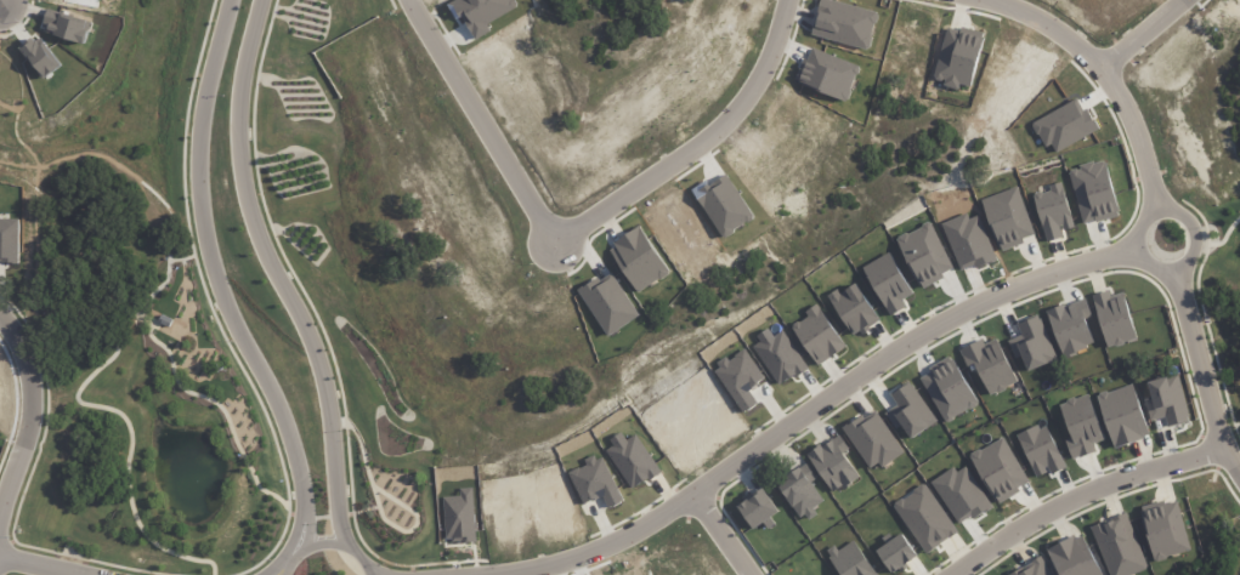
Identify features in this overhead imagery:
road: (1139, 33)
road: (1109, 78)
building: (1093, 192)
building: (1053, 212)
road: (583, 221)
building: (925, 255)
road: (1140, 257)
road: (282, 273)
building: (889, 283)
road: (213, 284)
park: (1219, 309)
building: (1114, 318)
building: (1071, 326)
building: (819, 335)
building: (1032, 345)
building: (780, 357)
building: (990, 365)
road: (1200, 371)
building: (949, 389)
building: (1167, 400)
road: (806, 415)
building: (1122, 416)
road: (28, 419)
building: (1081, 426)
building: (1041, 450)
building: (633, 460)
building: (834, 463)
building: (1000, 469)
building: (802, 491)
road: (1080, 495)
building: (758, 508)
building: (459, 517)
building: (510, 526)
building: (1165, 530)
road: (723, 534)
road: (328, 542)
building: (1119, 546)
road: (288, 547)
building: (896, 553)
building: (1074, 557)
building: (850, 559)
road: (43, 565)
road: (376, 568)
building: (1034, 568)

